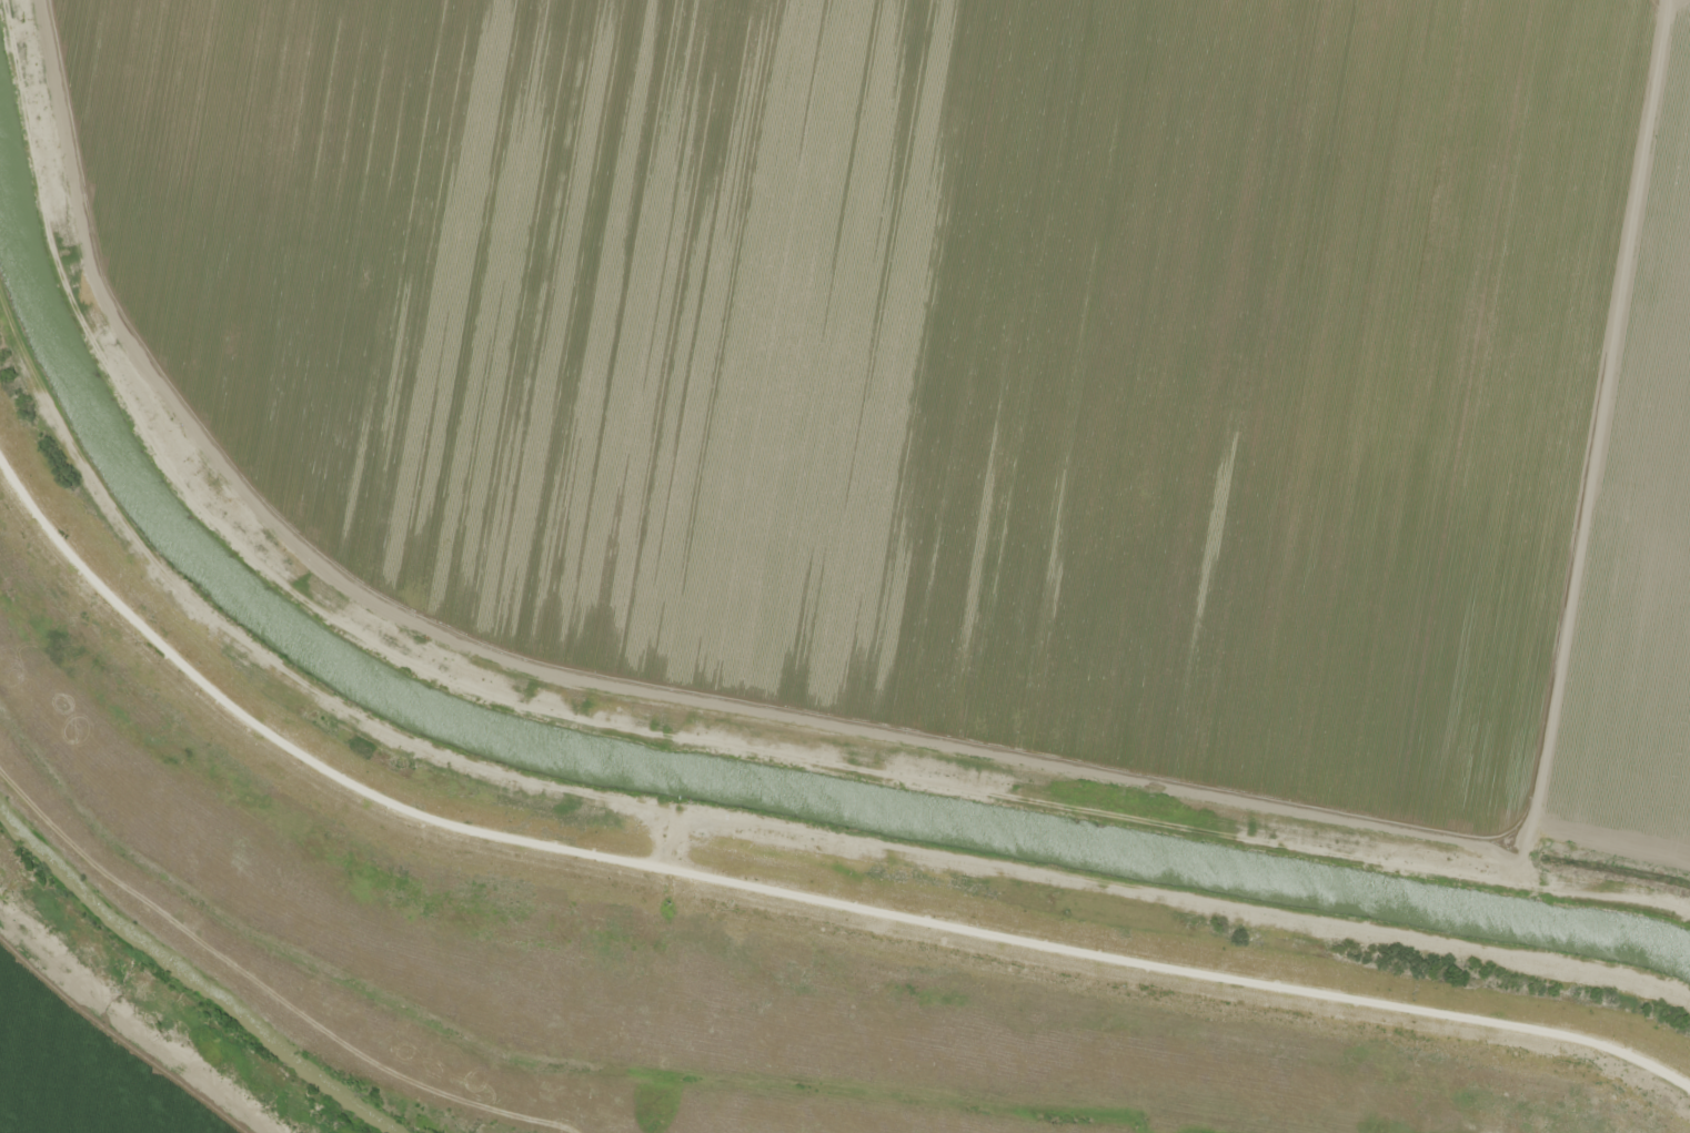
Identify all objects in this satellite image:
road: (671, 704)
road: (764, 874)
river: (191, 979)

